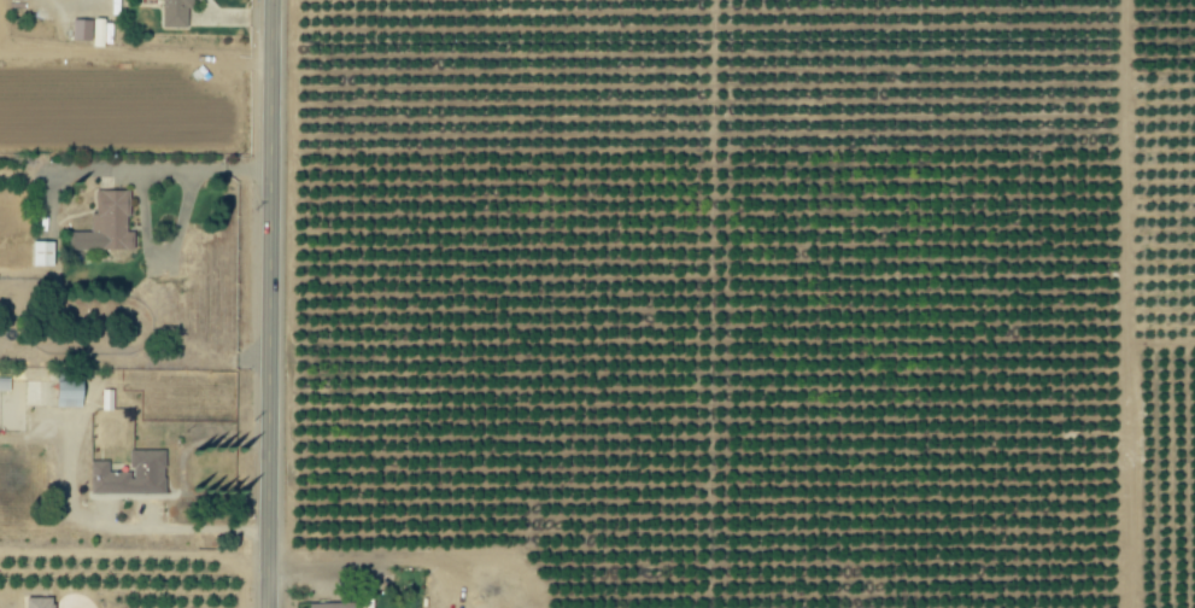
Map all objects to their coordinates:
building: (176, 12)
building: (82, 30)
building: (107, 224)
building: (42, 253)
road: (279, 304)
building: (33, 393)
building: (69, 394)
building: (107, 399)
building: (124, 425)
building: (131, 475)
road: (188, 536)
road: (392, 555)
building: (40, 602)
building: (333, 606)

